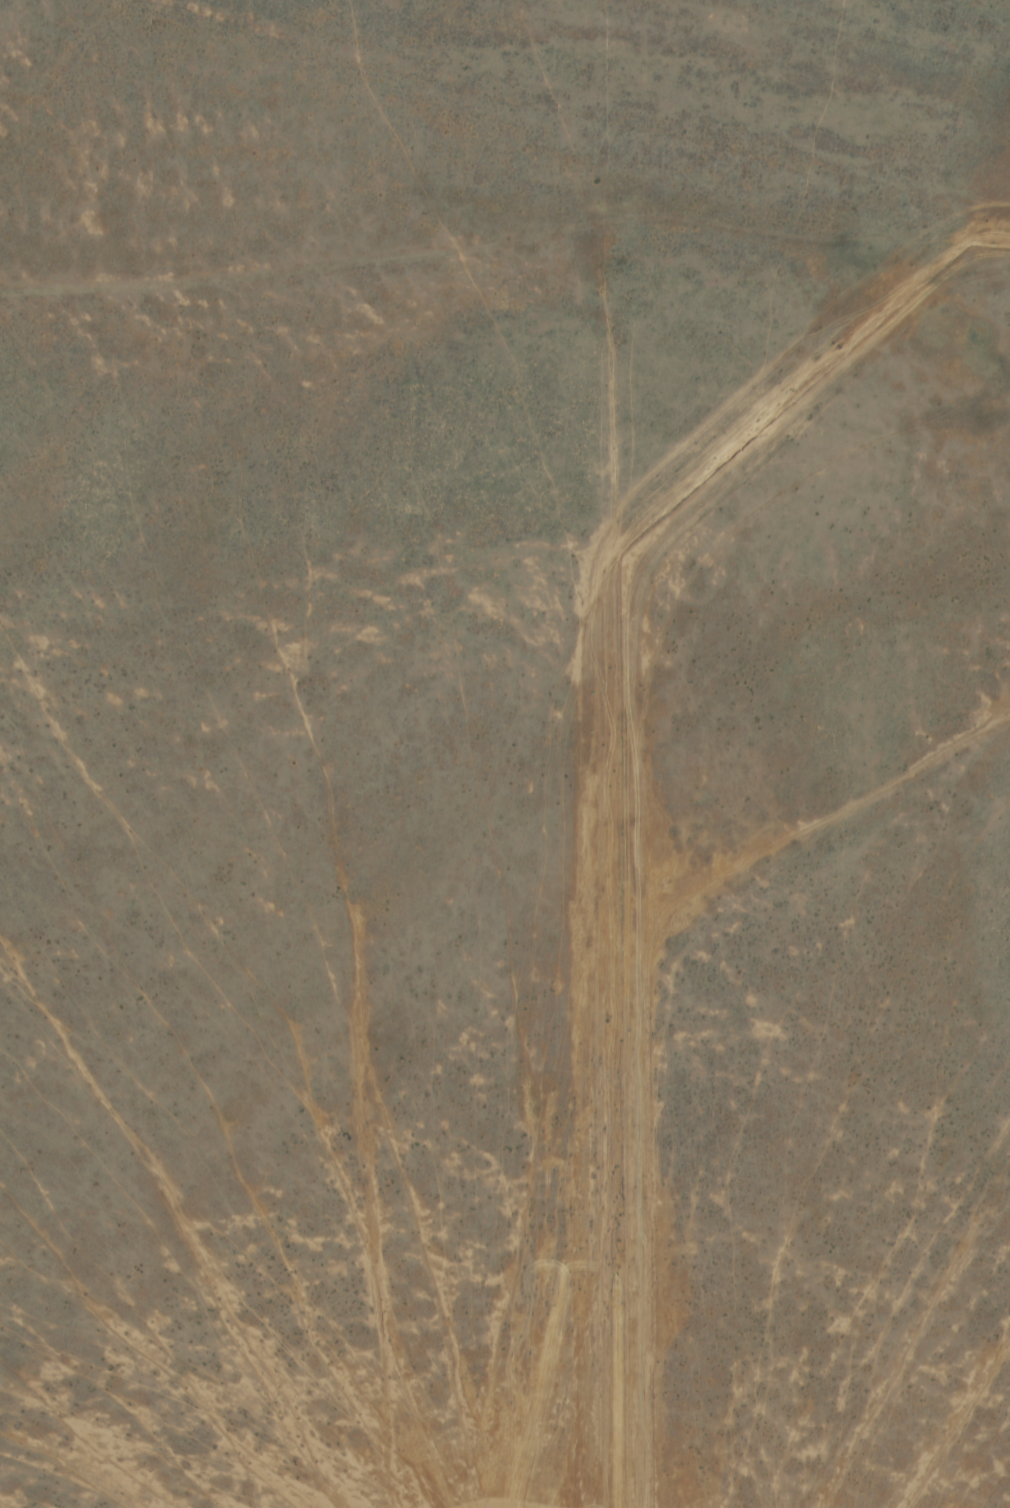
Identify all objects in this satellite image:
road: (717, 85)
road: (504, 231)
road: (699, 807)

